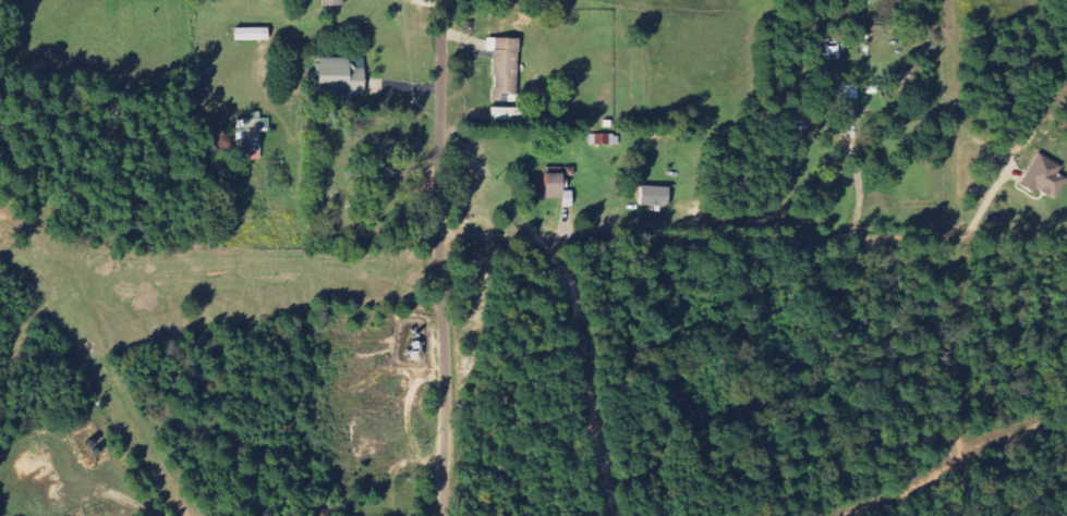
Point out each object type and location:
building: (329, 2)
building: (501, 64)
building: (337, 75)
building: (847, 101)
building: (248, 132)
building: (1041, 176)
building: (553, 188)
building: (650, 196)
road: (687, 237)
road: (442, 258)

